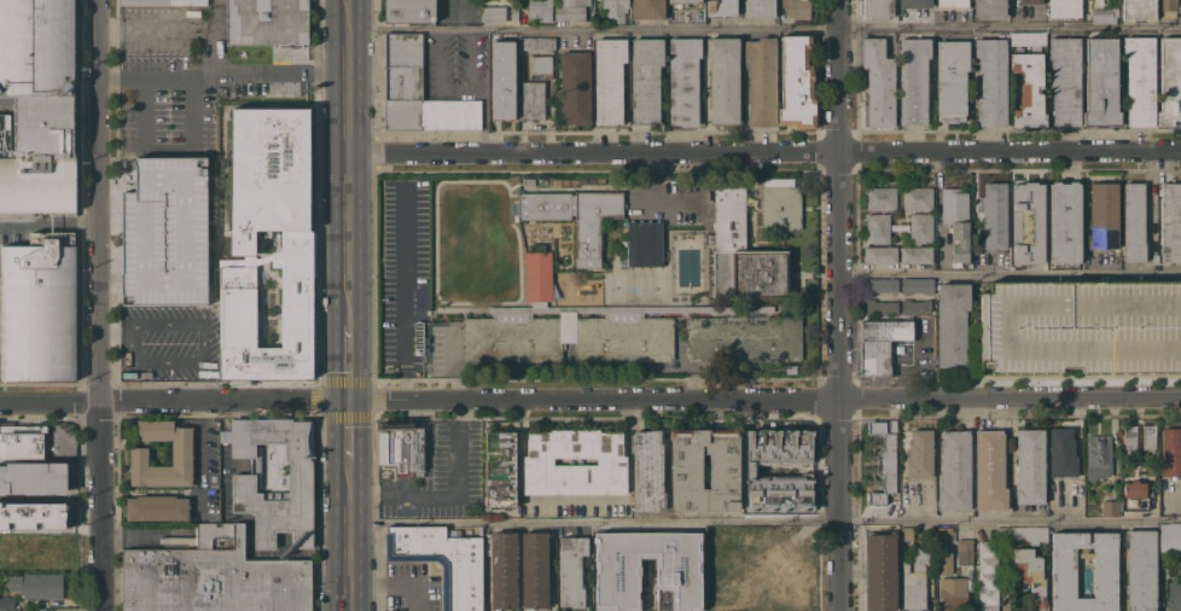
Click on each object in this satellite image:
building: (163, 1)
building: (685, 1)
building: (1030, 1)
building: (575, 2)
building: (914, 2)
building: (953, 2)
building: (722, 7)
building: (1168, 7)
building: (616, 8)
building: (760, 8)
building: (878, 8)
building: (989, 8)
building: (1063, 8)
building: (540, 10)
building: (647, 10)
building: (795, 10)
building: (1138, 10)
building: (409, 11)
road: (455, 13)
building: (493, 13)
building: (514, 13)
building: (570, 13)
building: (1104, 14)
building: (267, 22)
road: (764, 28)
building: (1026, 39)
building: (535, 42)
building: (36, 48)
building: (541, 64)
road: (222, 75)
building: (609, 78)
building: (723, 78)
building: (645, 80)
building: (683, 80)
building: (761, 80)
building: (914, 80)
building: (952, 80)
building: (1065, 80)
building: (1140, 80)
building: (502, 81)
building: (991, 81)
building: (1170, 81)
building: (797, 82)
building: (1101, 82)
building: (878, 85)
road: (453, 88)
building: (575, 88)
building: (1029, 89)
building: (418, 92)
building: (533, 100)
road: (549, 117)
road: (520, 122)
building: (43, 127)
building: (7, 135)
road: (167, 147)
road: (764, 150)
building: (267, 170)
building: (582, 180)
building: (592, 180)
building: (600, 180)
building: (529, 181)
building: (554, 182)
building: (565, 182)
building: (574, 182)
building: (37, 185)
road: (653, 198)
building: (880, 198)
building: (917, 199)
building: (780, 204)
building: (1104, 215)
building: (575, 216)
building: (994, 216)
building: (956, 221)
building: (1134, 221)
road: (48, 222)
building: (1026, 222)
building: (1064, 222)
building: (1170, 222)
building: (877, 228)
building: (920, 228)
building: (163, 232)
parking garage: (163, 232)
building: (51, 238)
building: (645, 243)
building: (741, 254)
building: (879, 255)
building: (915, 255)
building: (1154, 258)
road: (1080, 272)
building: (537, 273)
building: (880, 285)
building: (917, 285)
road: (405, 295)
road: (99, 304)
road: (349, 305)
road: (842, 305)
building: (914, 305)
building: (880, 307)
building: (635, 308)
building: (268, 310)
building: (37, 312)
building: (952, 324)
building: (1081, 326)
parking lot: (1081, 326)
road: (115, 333)
building: (623, 338)
building: (743, 338)
building: (512, 339)
building: (890, 345)
road: (200, 347)
road: (454, 363)
building: (790, 368)
road: (589, 400)
traffic signals: (350, 401)
road: (199, 409)
building: (1129, 437)
building: (1148, 437)
building: (21, 442)
road: (198, 446)
building: (401, 447)
building: (1170, 450)
building: (919, 453)
building: (1060, 453)
building: (1098, 455)
building: (181, 456)
building: (884, 460)
building: (537, 461)
building: (1029, 466)
building: (500, 469)
building: (751, 469)
building: (989, 470)
building: (647, 471)
building: (686, 471)
building: (954, 471)
building: (31, 477)
building: (274, 479)
road: (449, 490)
road: (157, 493)
building: (1135, 496)
building: (157, 507)
building: (1110, 507)
building: (31, 516)
road: (595, 519)
road: (1012, 522)
building: (906, 533)
building: (1022, 534)
road: (146, 536)
building: (1169, 539)
building: (795, 540)
building: (37, 547)
building: (944, 551)
building: (965, 551)
building: (290, 552)
building: (443, 560)
building: (0, 564)
building: (1141, 569)
building: (502, 570)
building: (535, 570)
building: (570, 570)
building: (880, 571)
building: (676, 572)
building: (1105, 574)
building: (987, 575)
building: (1030, 575)
building: (211, 576)
building: (914, 581)
building: (720, 582)
building: (757, 582)
building: (795, 582)
building: (36, 584)
parking lot: (414, 586)
road: (394, 587)
building: (953, 594)
building: (1174, 595)
building: (6, 603)
building: (2, 610)

